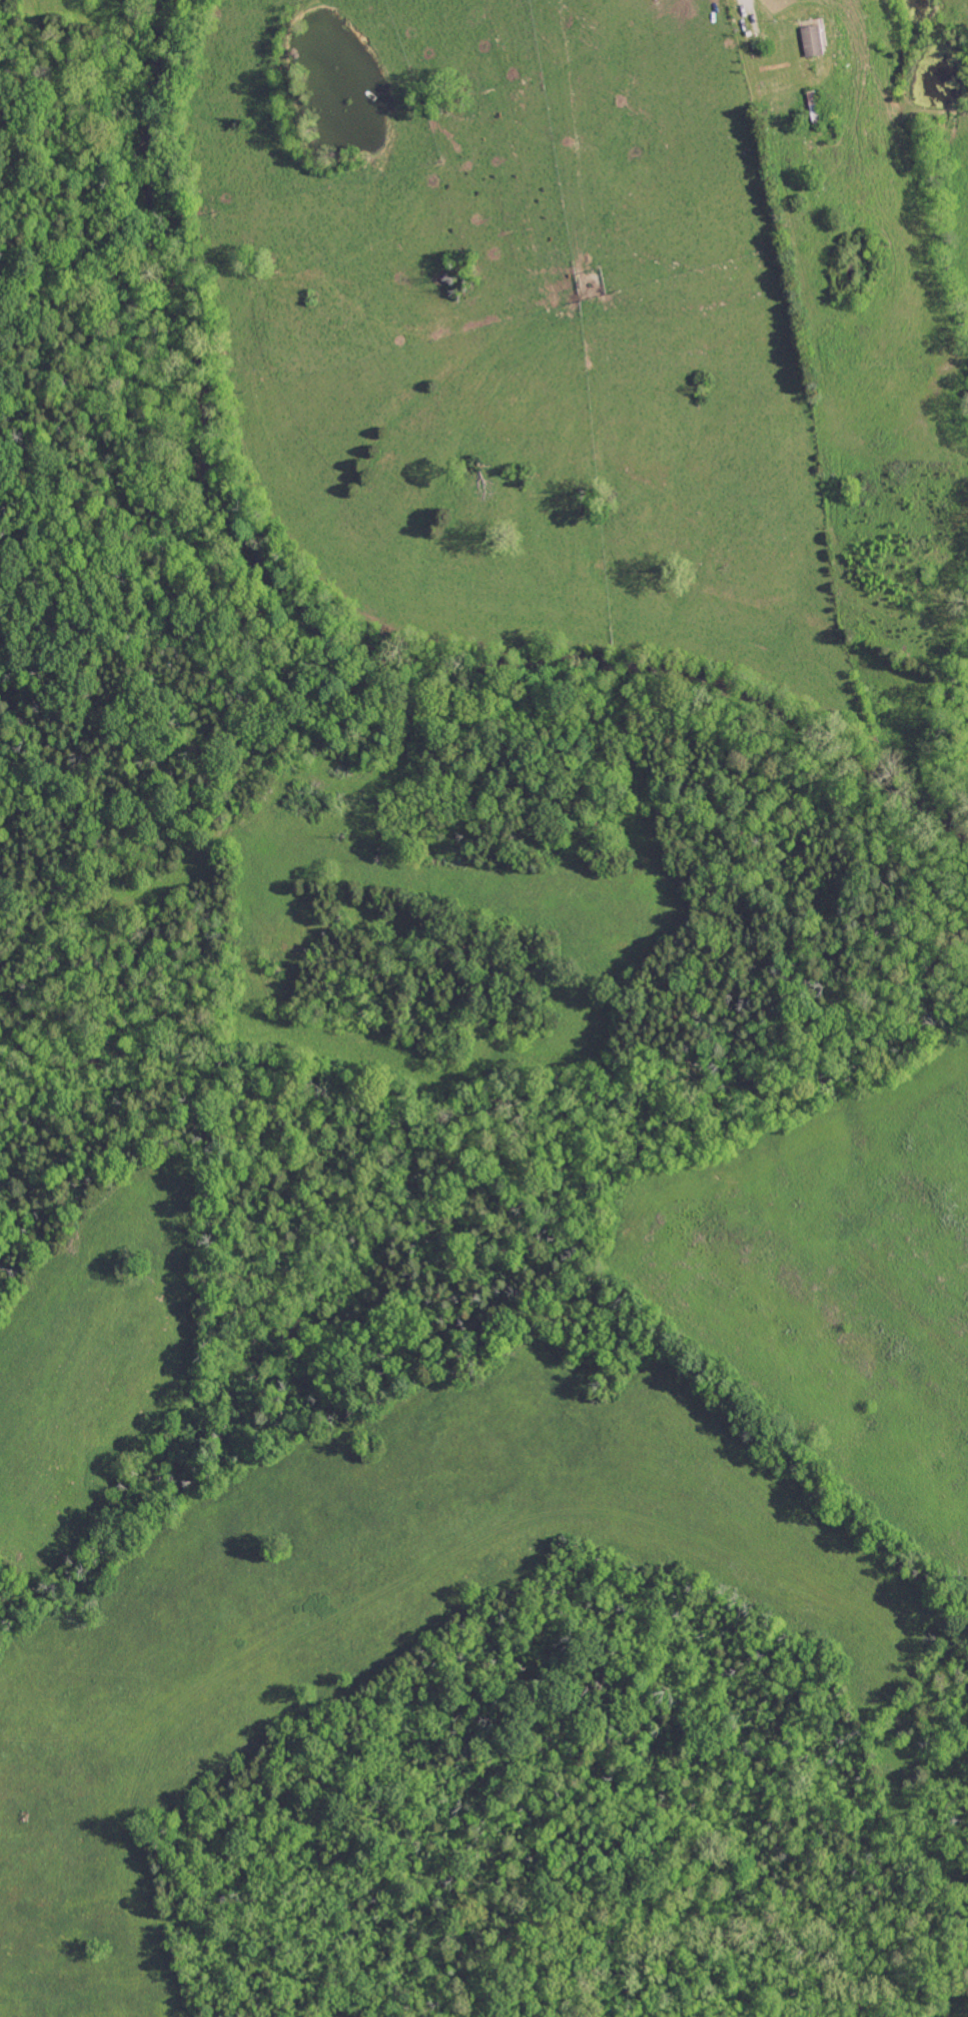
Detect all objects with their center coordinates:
road: (746, 3)
building: (812, 39)

